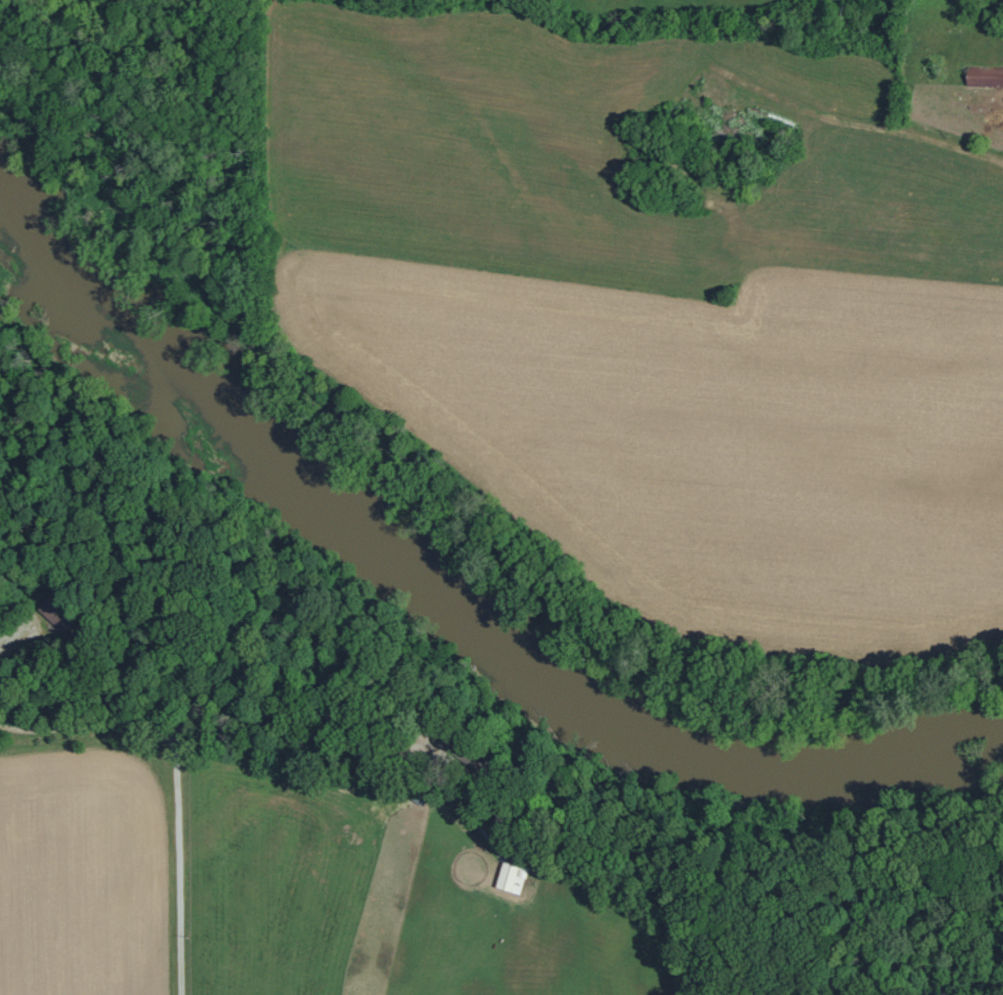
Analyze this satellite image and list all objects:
building: (984, 76)
river: (446, 612)
building: (55, 614)
building: (510, 878)

